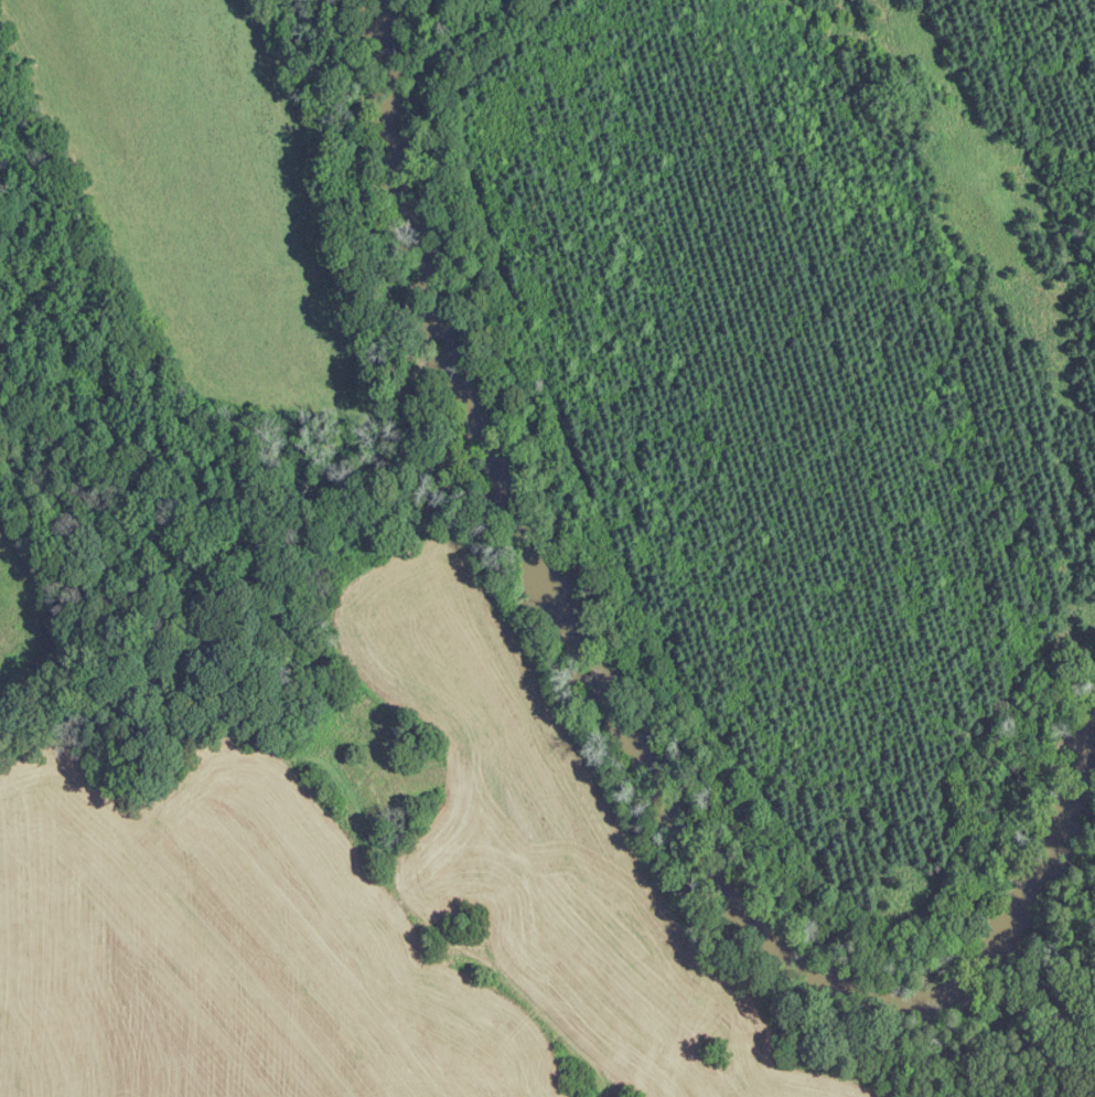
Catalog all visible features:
river: (605, 729)

